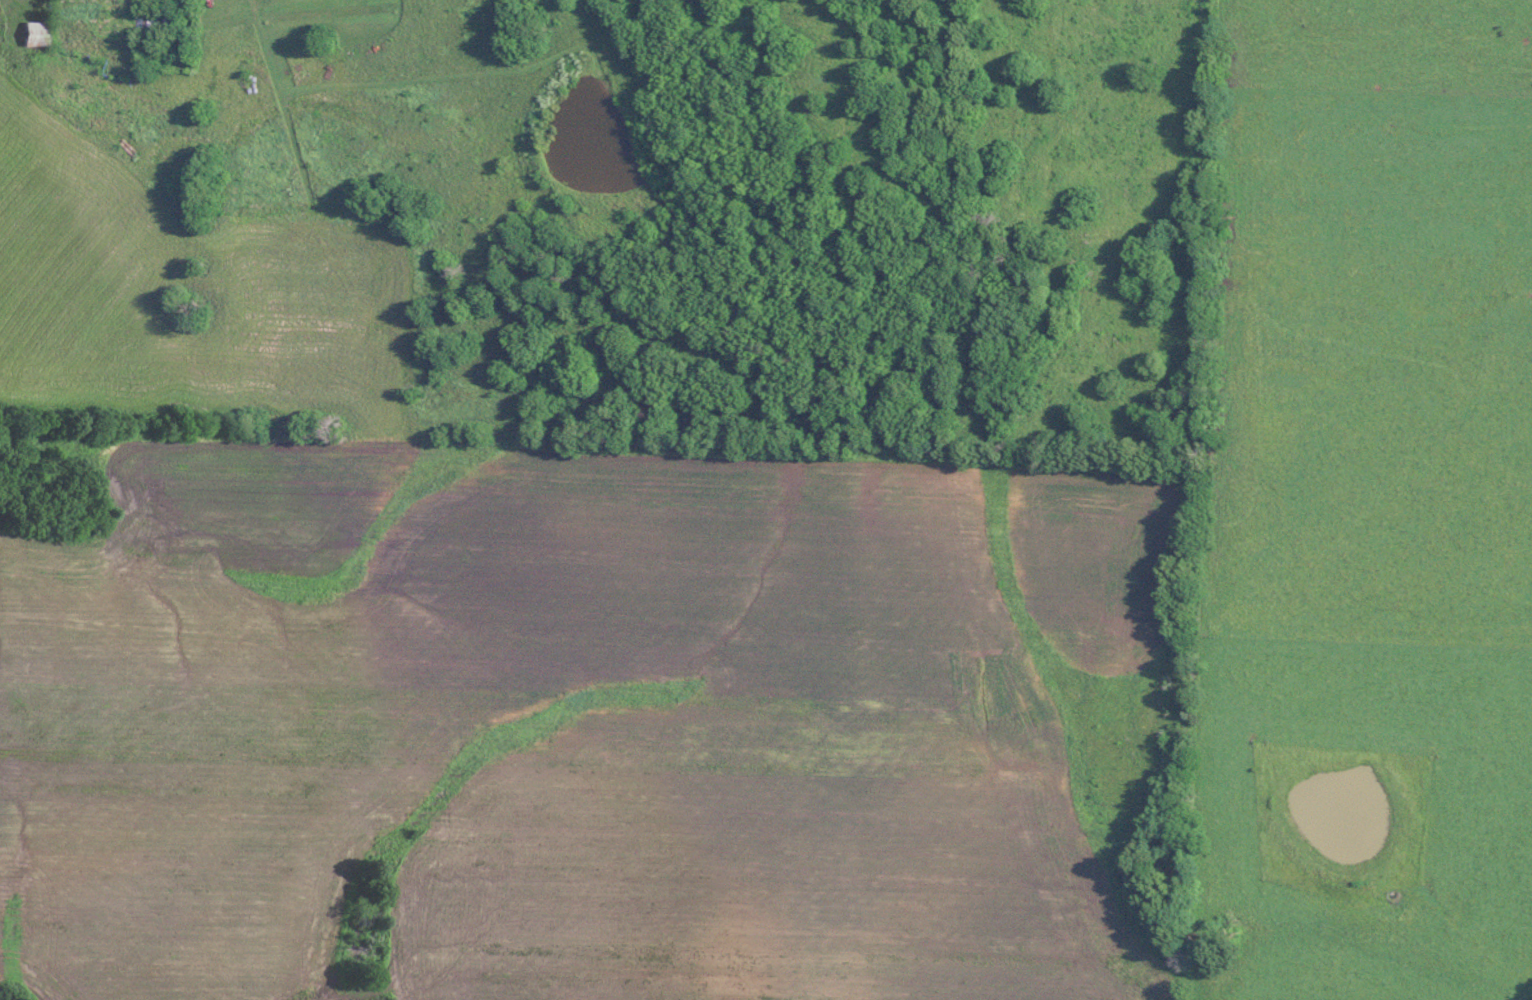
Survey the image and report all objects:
building: (156, 20)
building: (30, 33)

